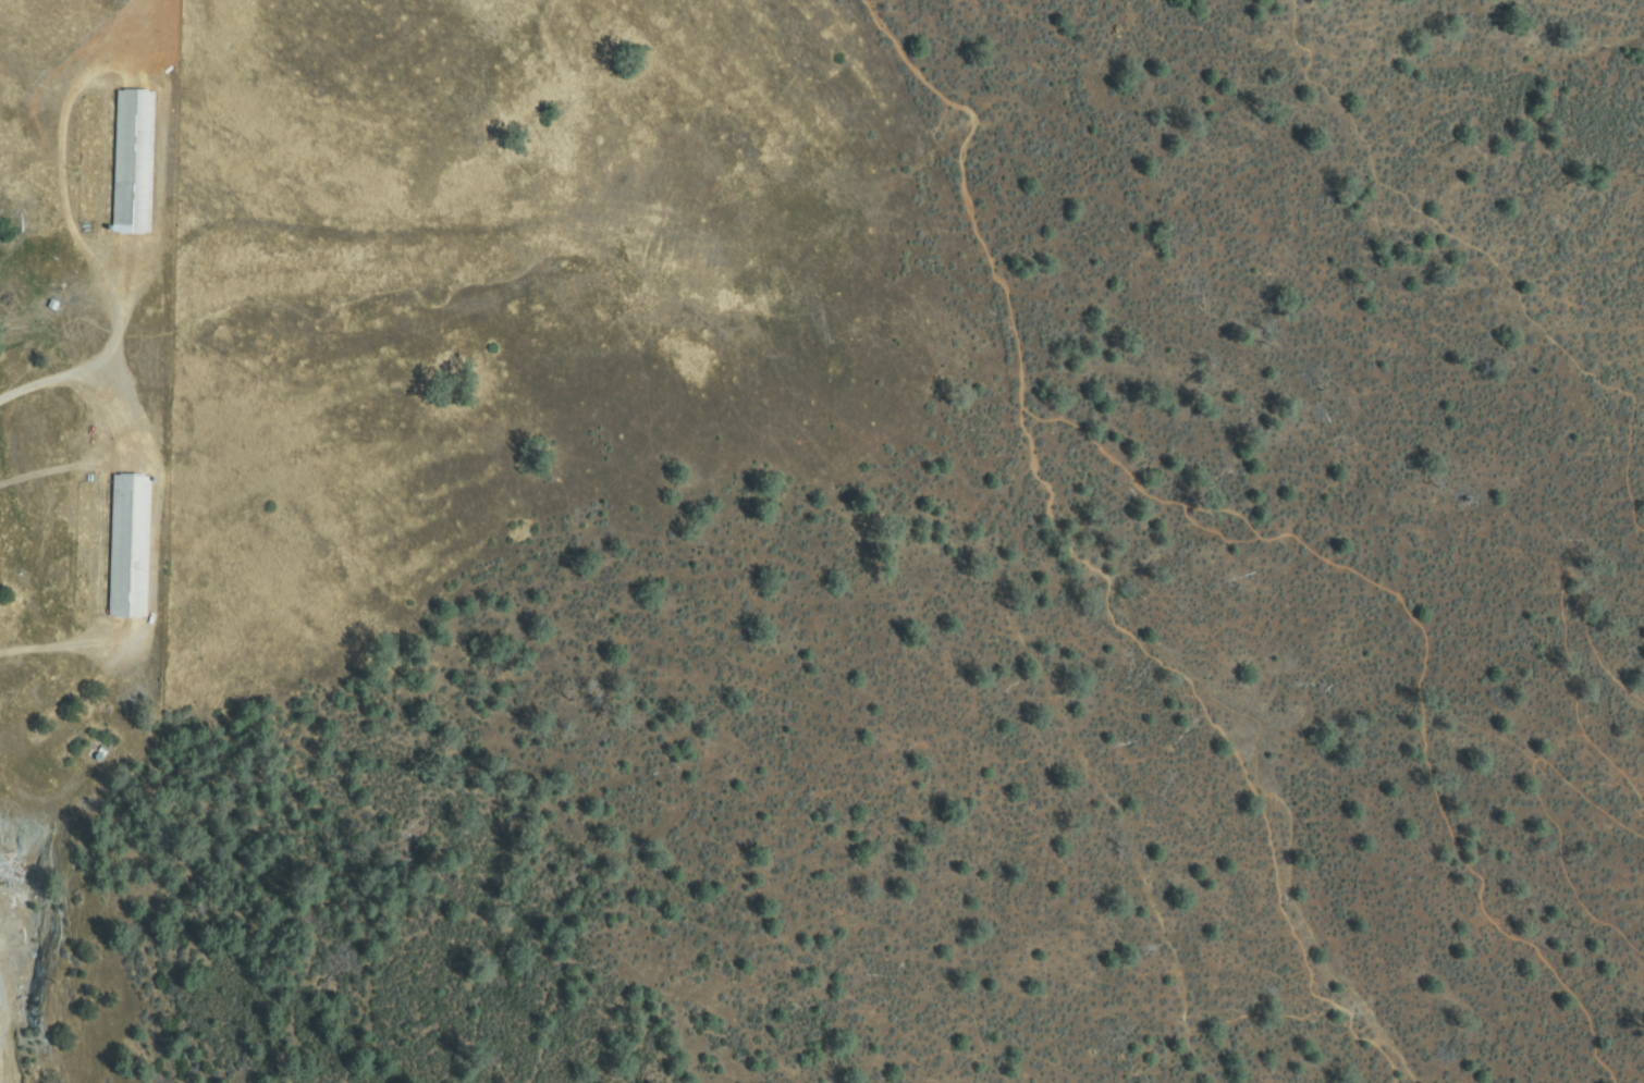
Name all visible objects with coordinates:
building: (133, 162)
road: (965, 184)
road: (1479, 256)
building: (53, 306)
building: (130, 546)
road: (1560, 603)
road: (1421, 656)
road: (1222, 738)
storage tank: (98, 758)
road: (1549, 796)

